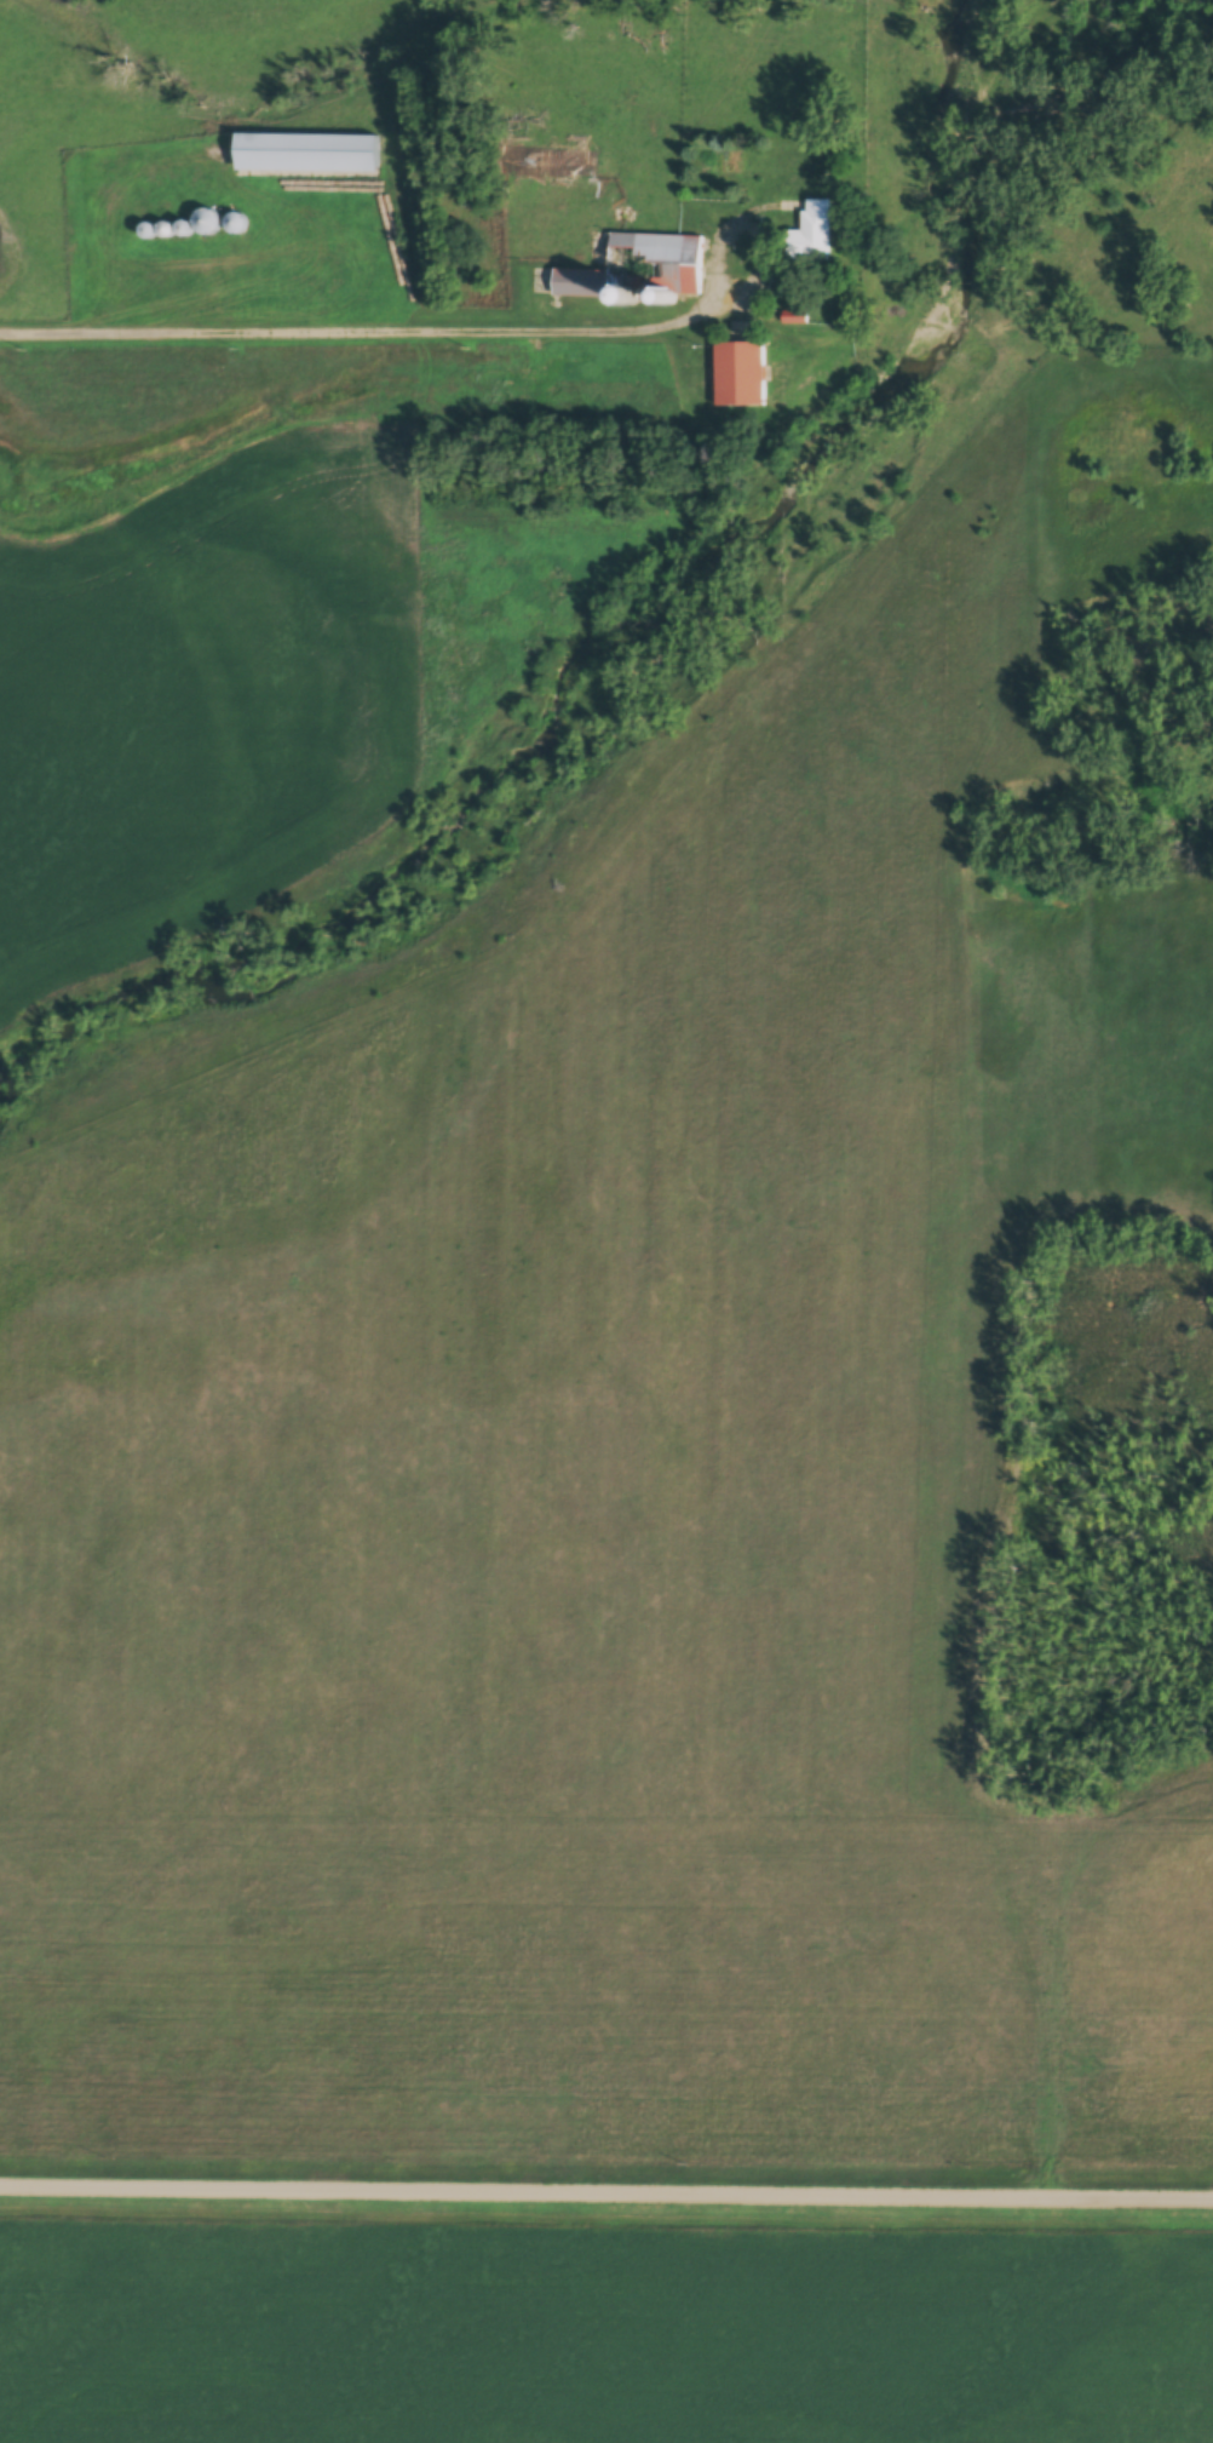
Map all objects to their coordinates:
building: (306, 156)
building: (552, 165)
building: (811, 234)
building: (679, 266)
road: (435, 326)
building: (738, 374)
road: (605, 2189)

